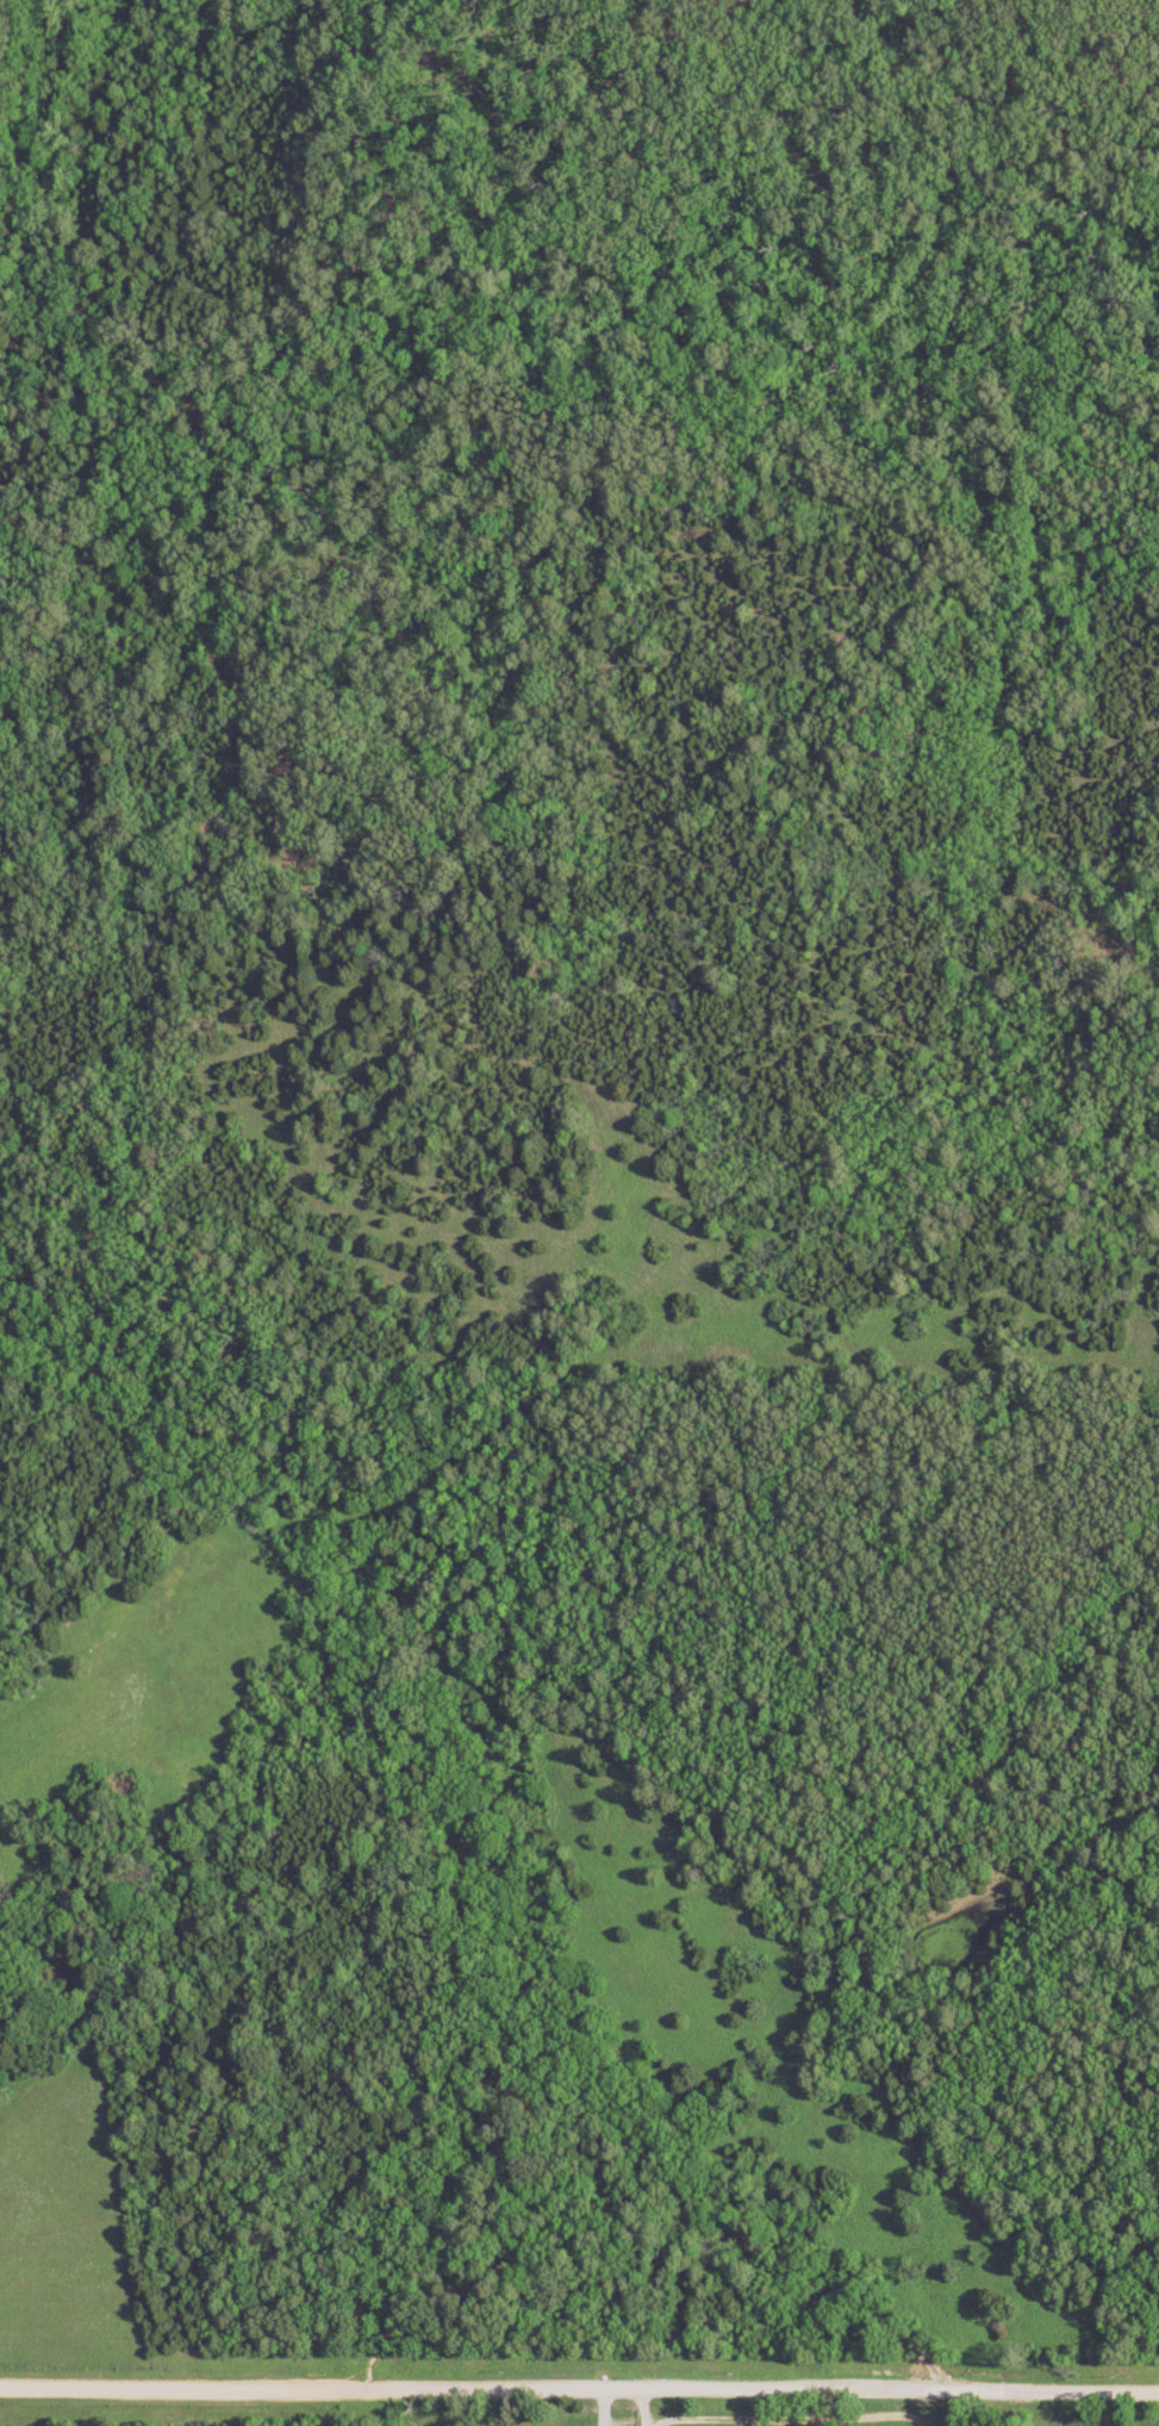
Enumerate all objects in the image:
road: (579, 2385)
road: (604, 2406)
road: (644, 2406)

